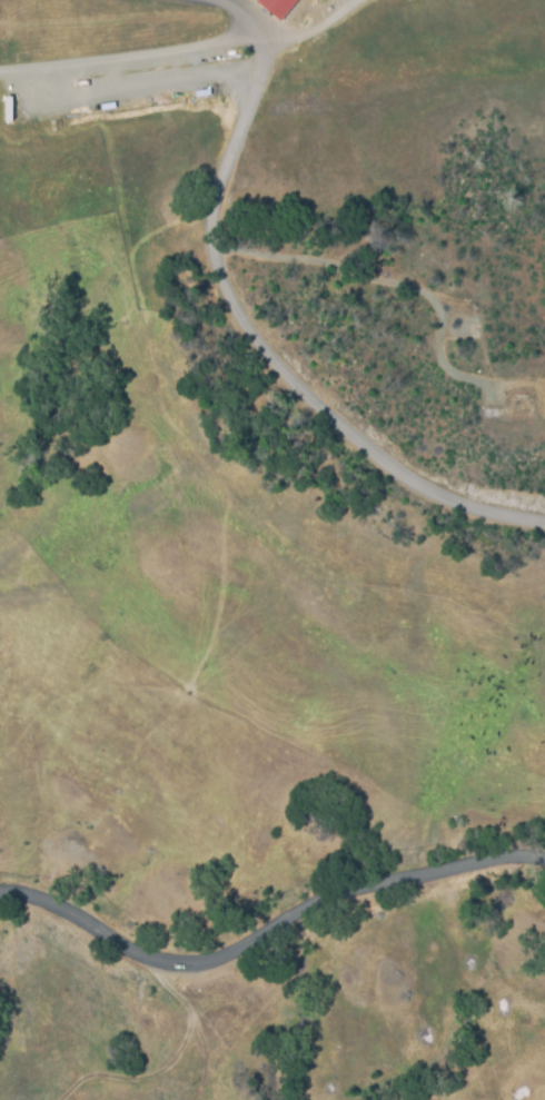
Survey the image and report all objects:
road: (305, 29)
road: (123, 54)
road: (120, 88)
road: (252, 325)
road: (267, 929)

